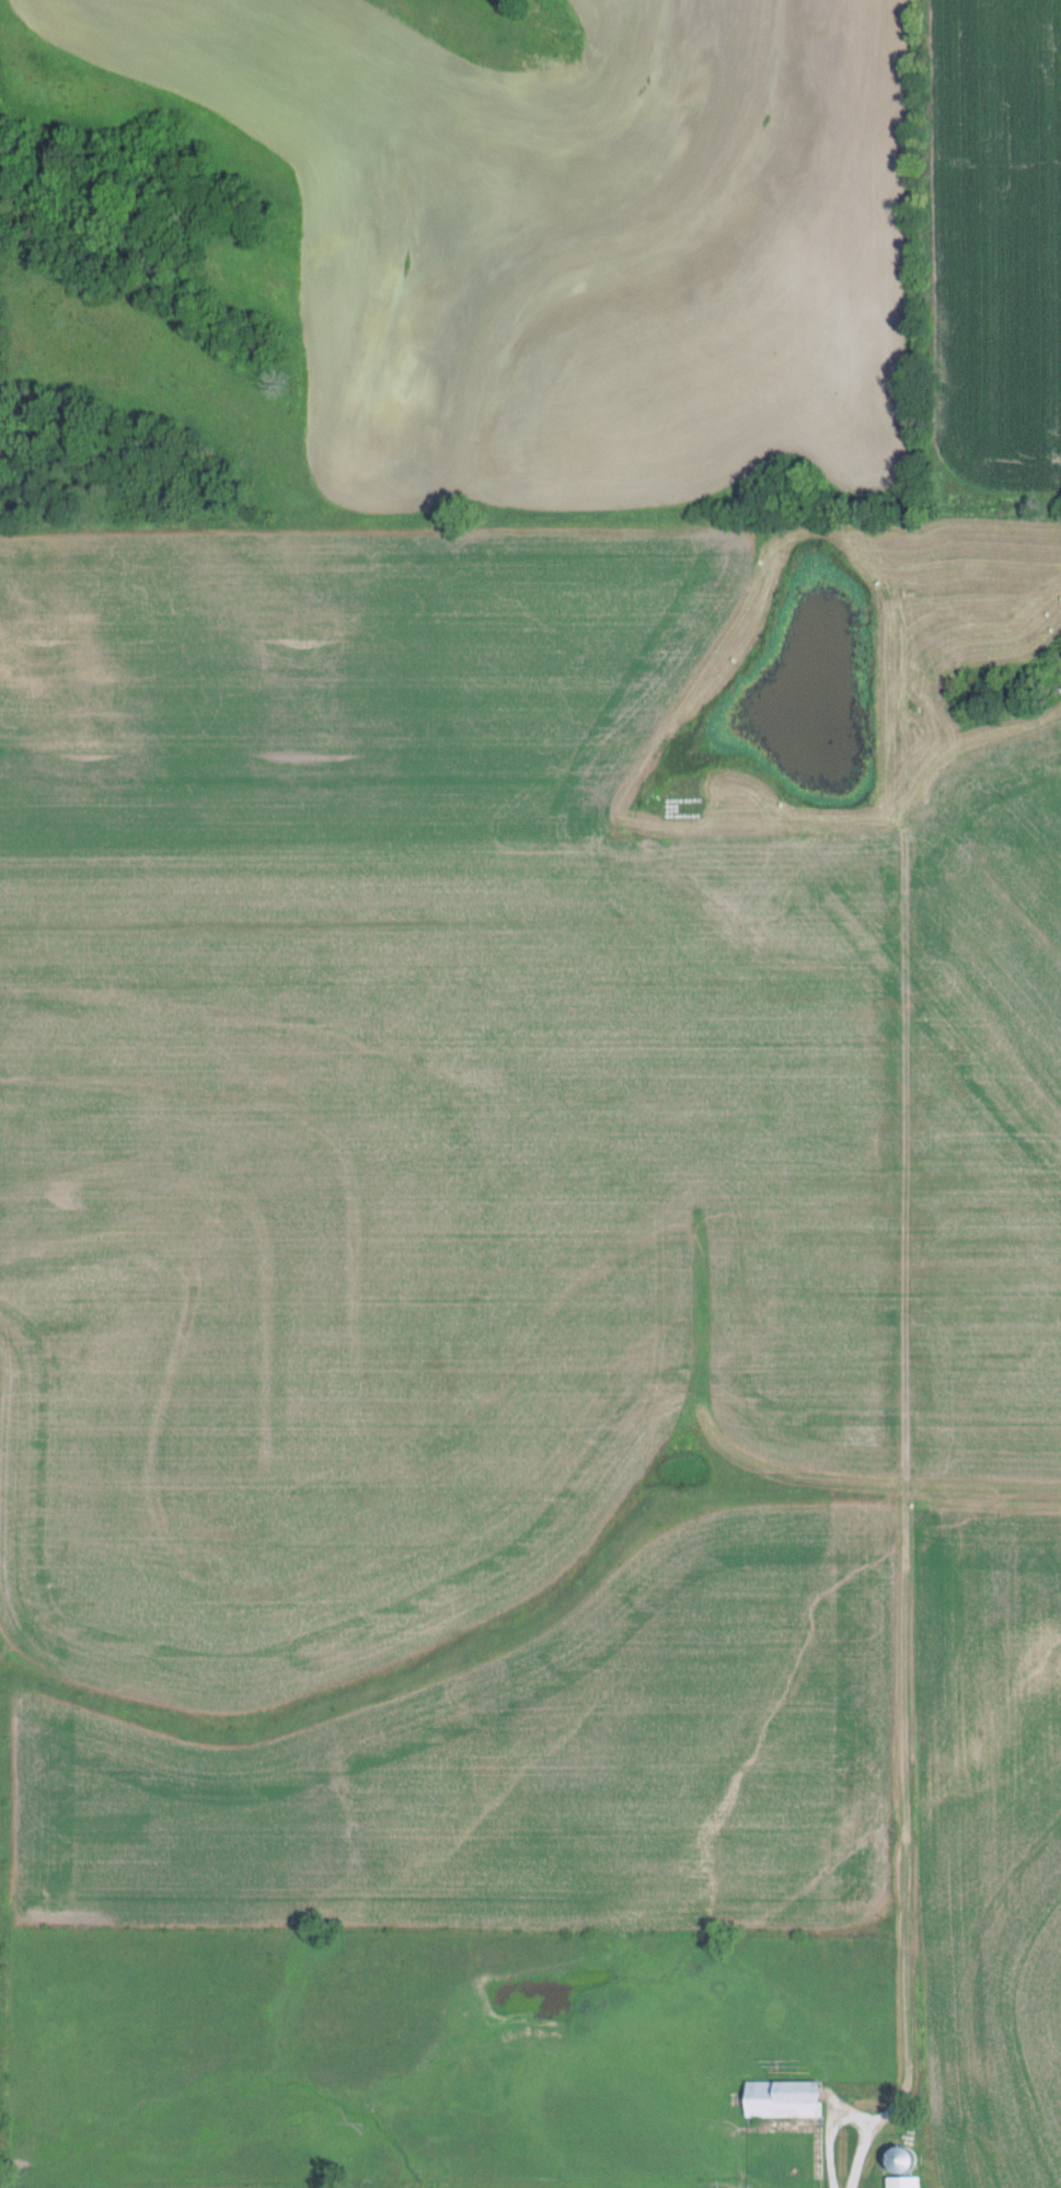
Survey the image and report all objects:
building: (785, 2099)
building: (904, 2181)

